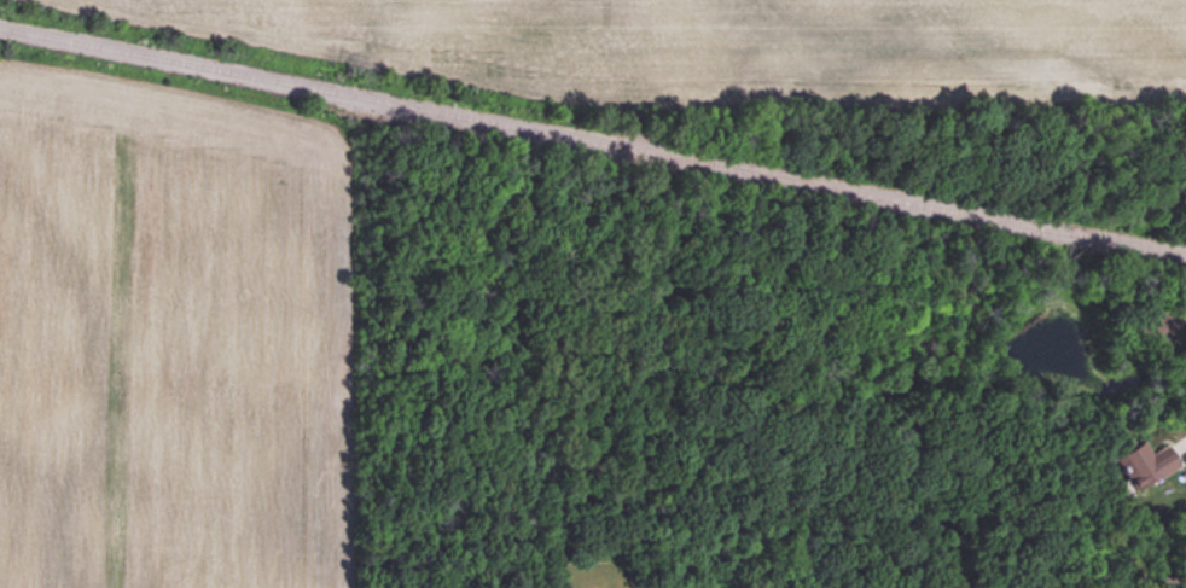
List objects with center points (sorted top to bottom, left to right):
railway: (593, 140)
road: (1181, 433)
building: (1144, 464)

